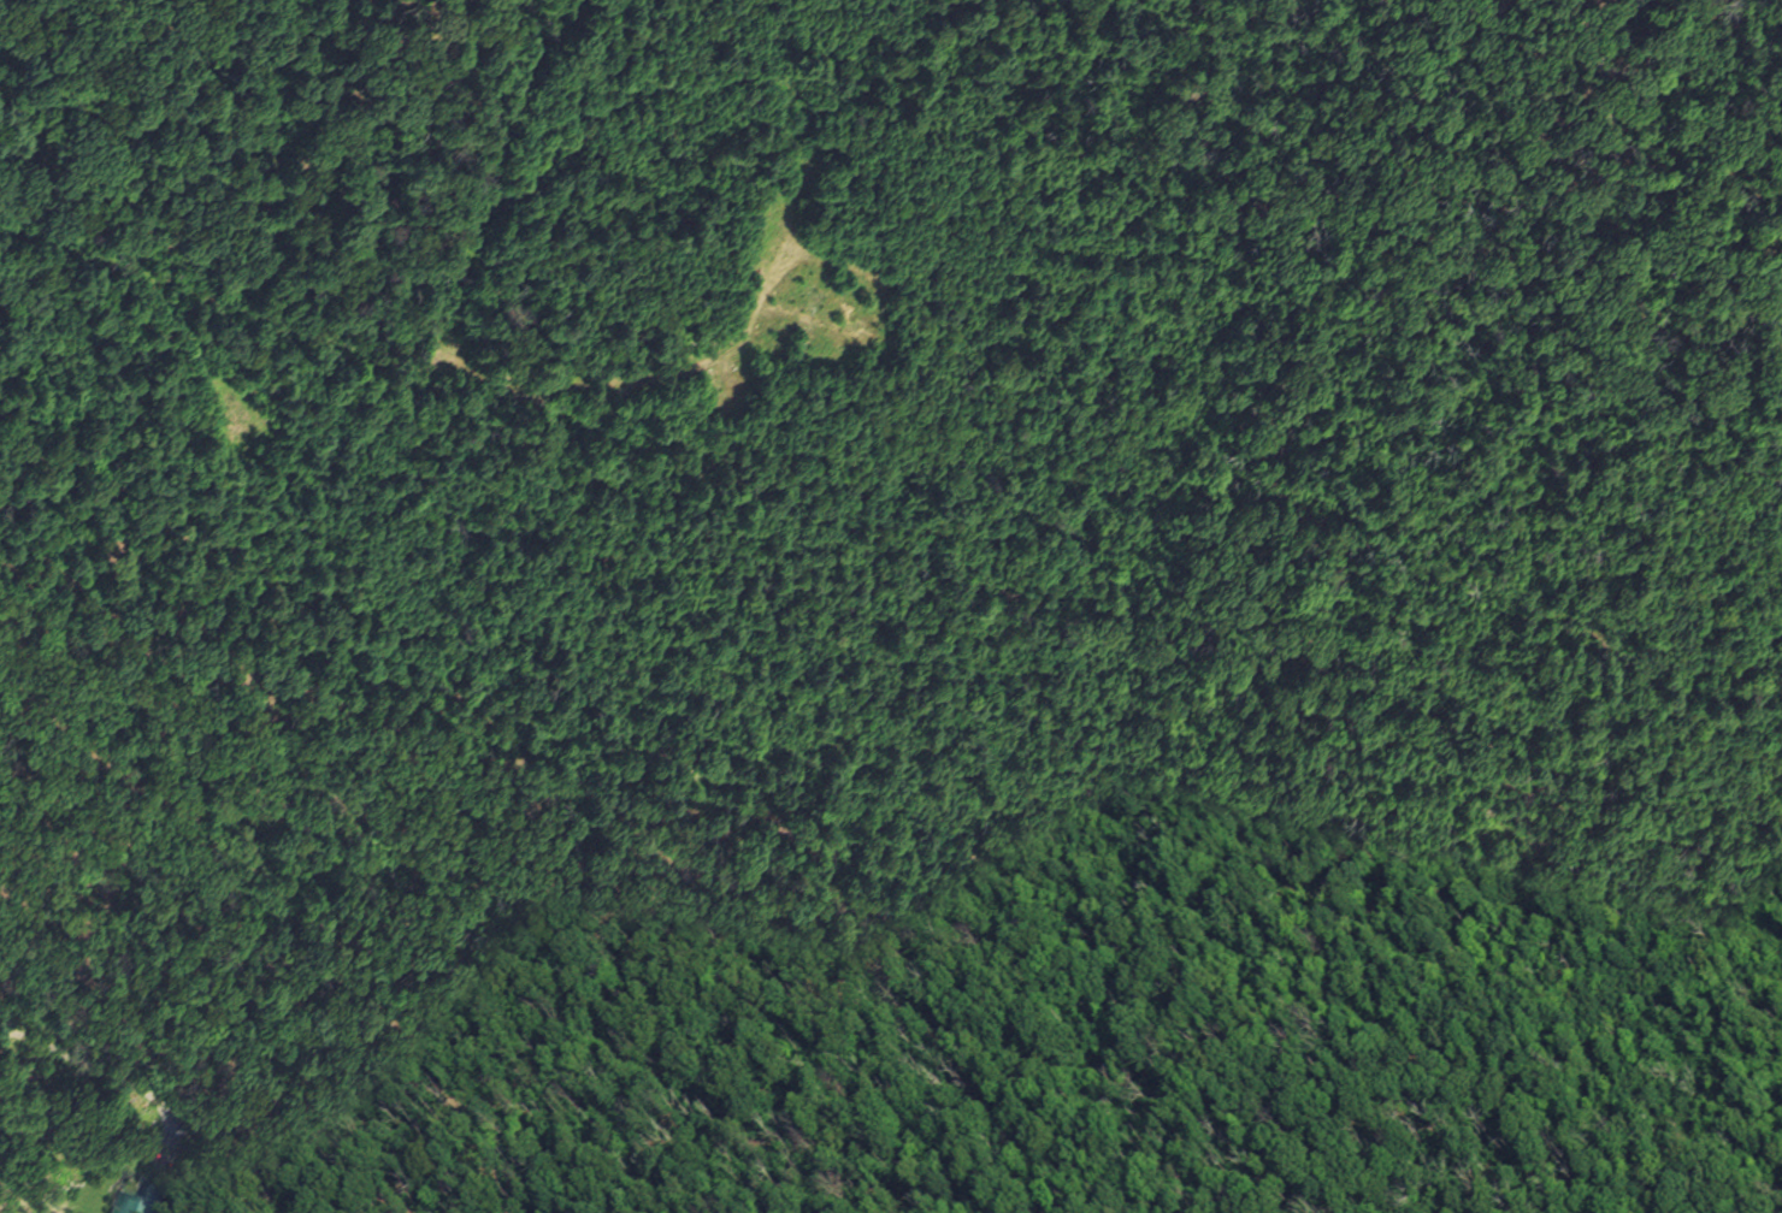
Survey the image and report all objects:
road: (20, 2)
road: (1624, 824)
road: (106, 1072)
building: (140, 1200)

